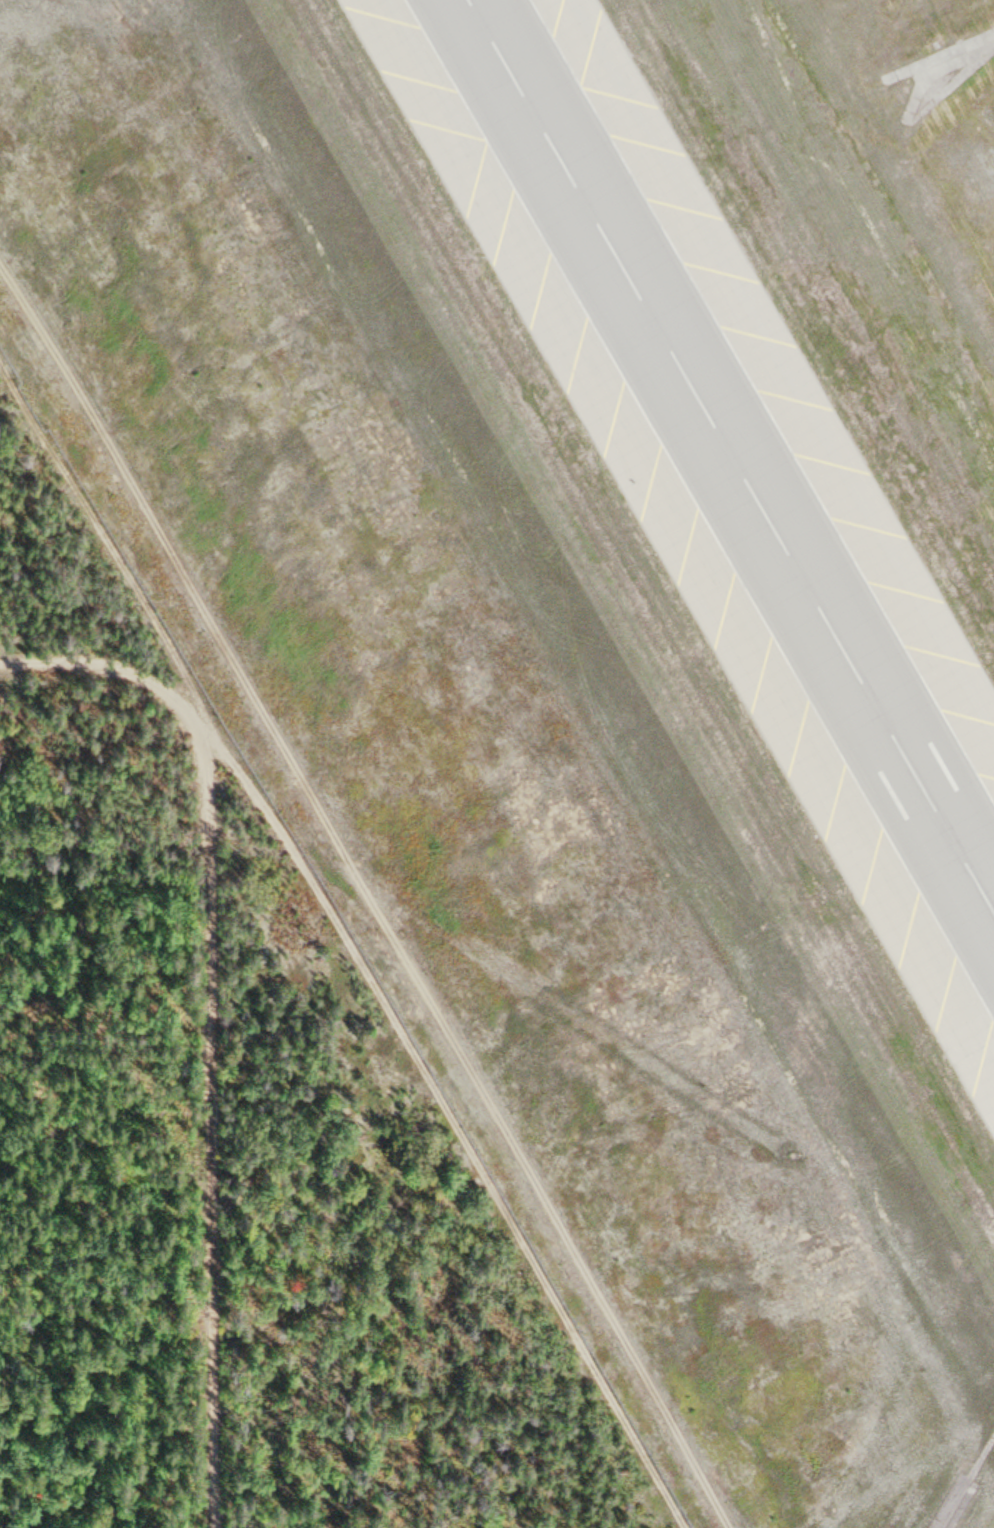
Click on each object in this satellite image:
airport apron: (773, 382)
airport runway: (728, 461)
airport: (594, 629)
road: (173, 703)
road: (449, 1059)
road: (211, 1201)

